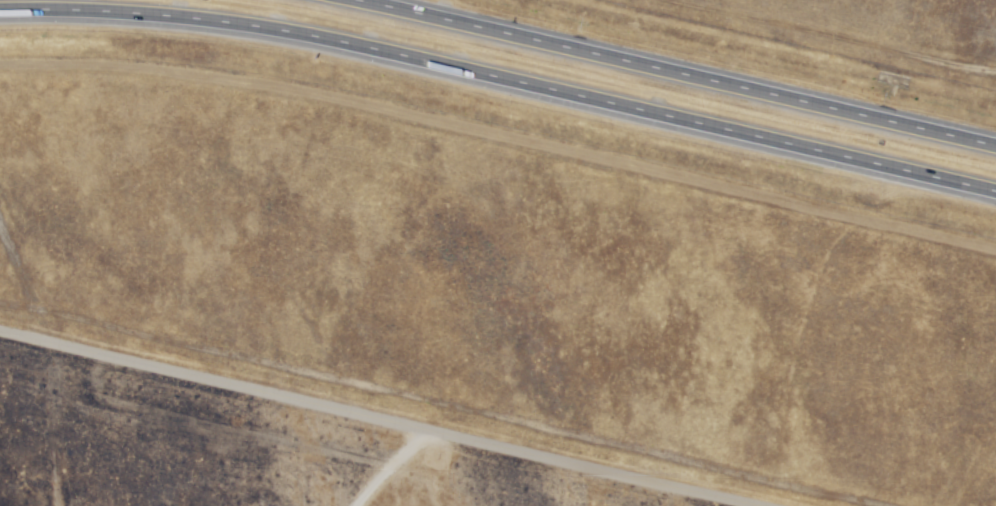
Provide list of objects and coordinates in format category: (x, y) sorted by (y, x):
road: (831, 38)
road: (501, 71)
road: (681, 73)
road: (500, 140)
road: (21, 286)
road: (381, 417)
road: (44, 422)
road: (380, 464)
road: (420, 471)

